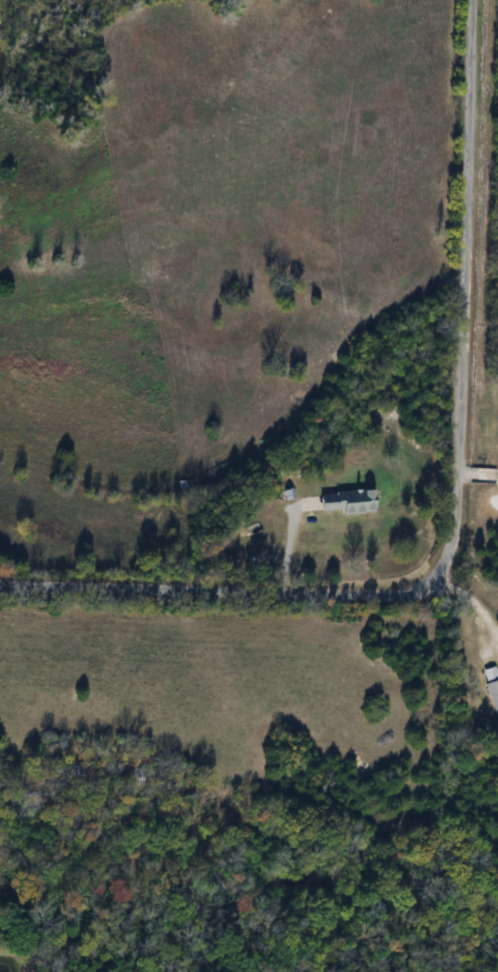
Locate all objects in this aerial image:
building: (342, 502)
road: (457, 511)
road: (291, 544)
road: (474, 599)
building: (492, 694)

